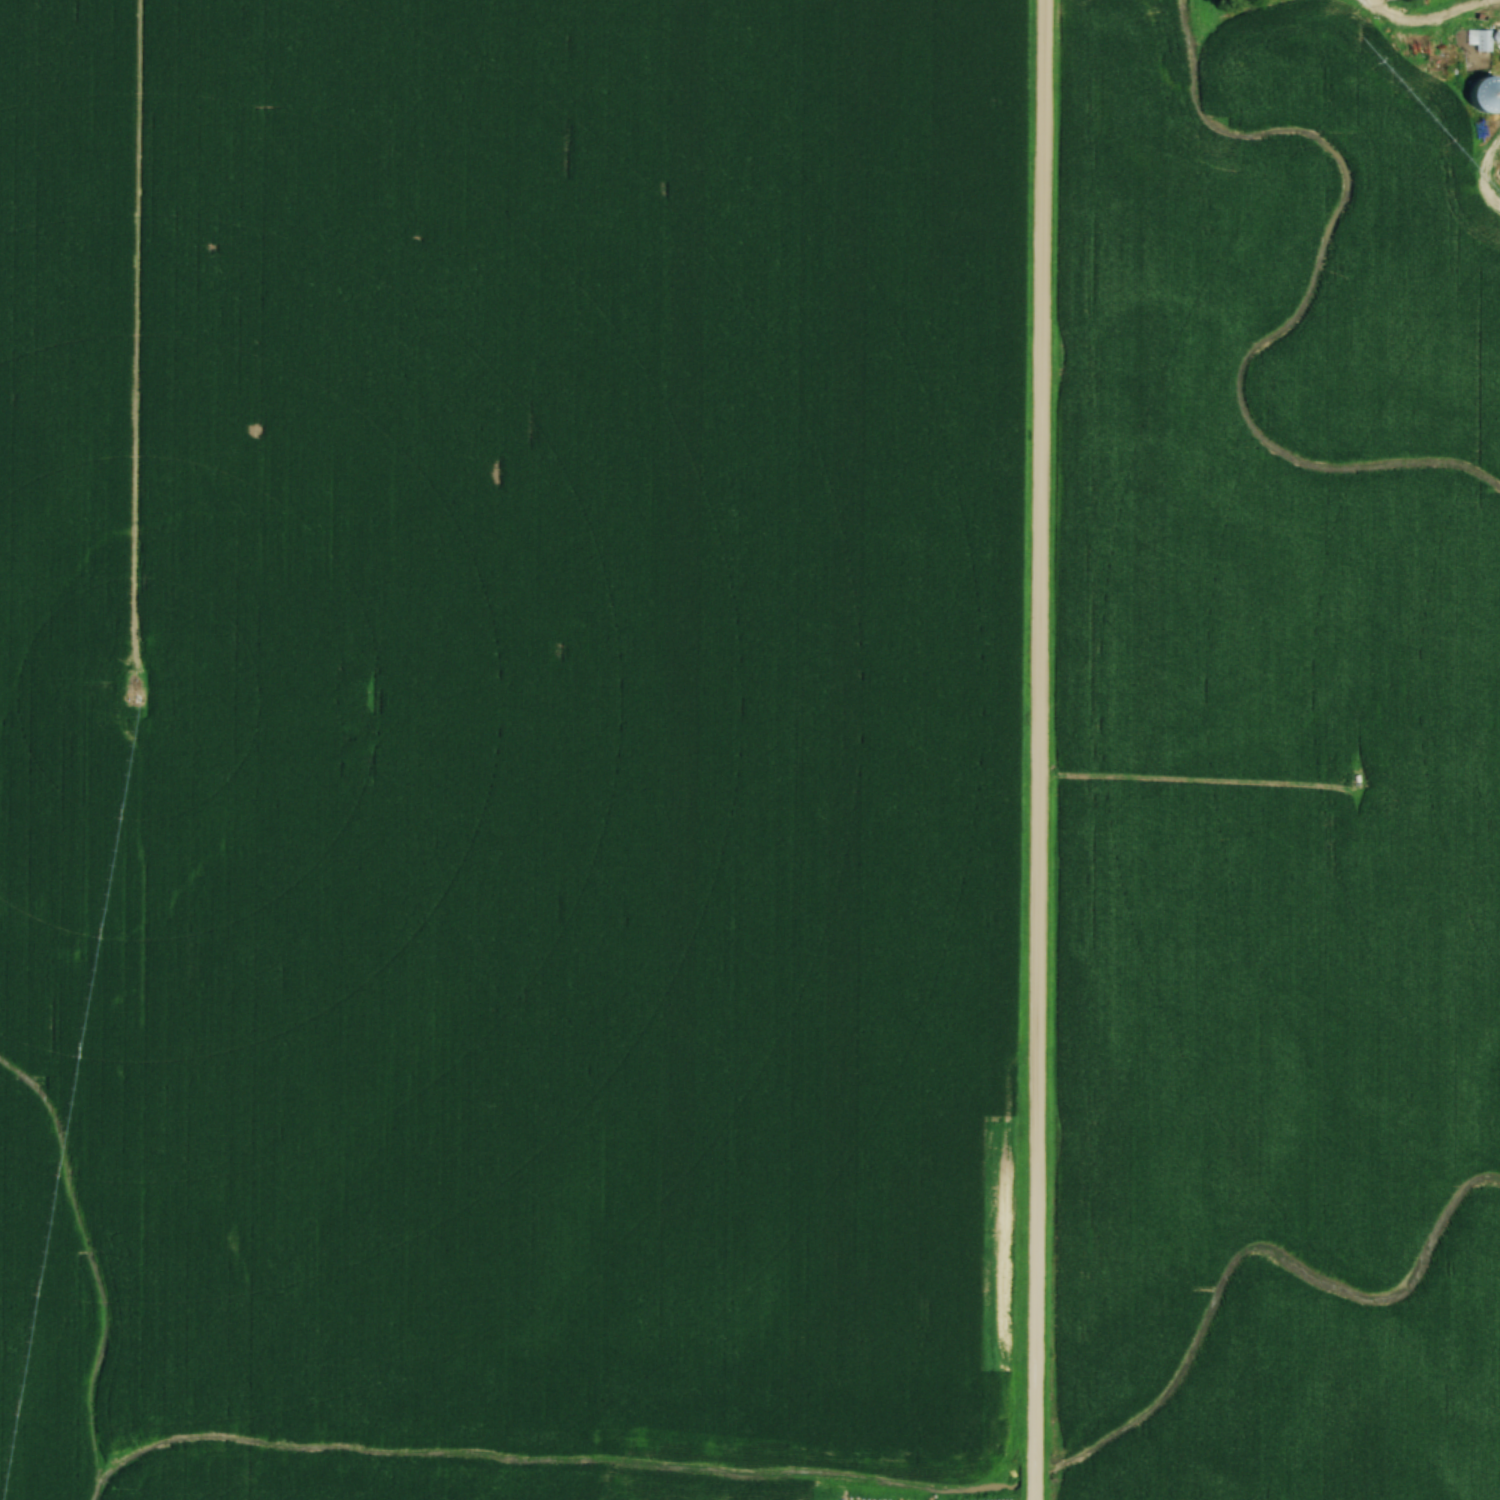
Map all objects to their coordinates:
building: (1485, 39)
building: (1489, 87)
building: (1499, 174)
road: (1038, 750)

